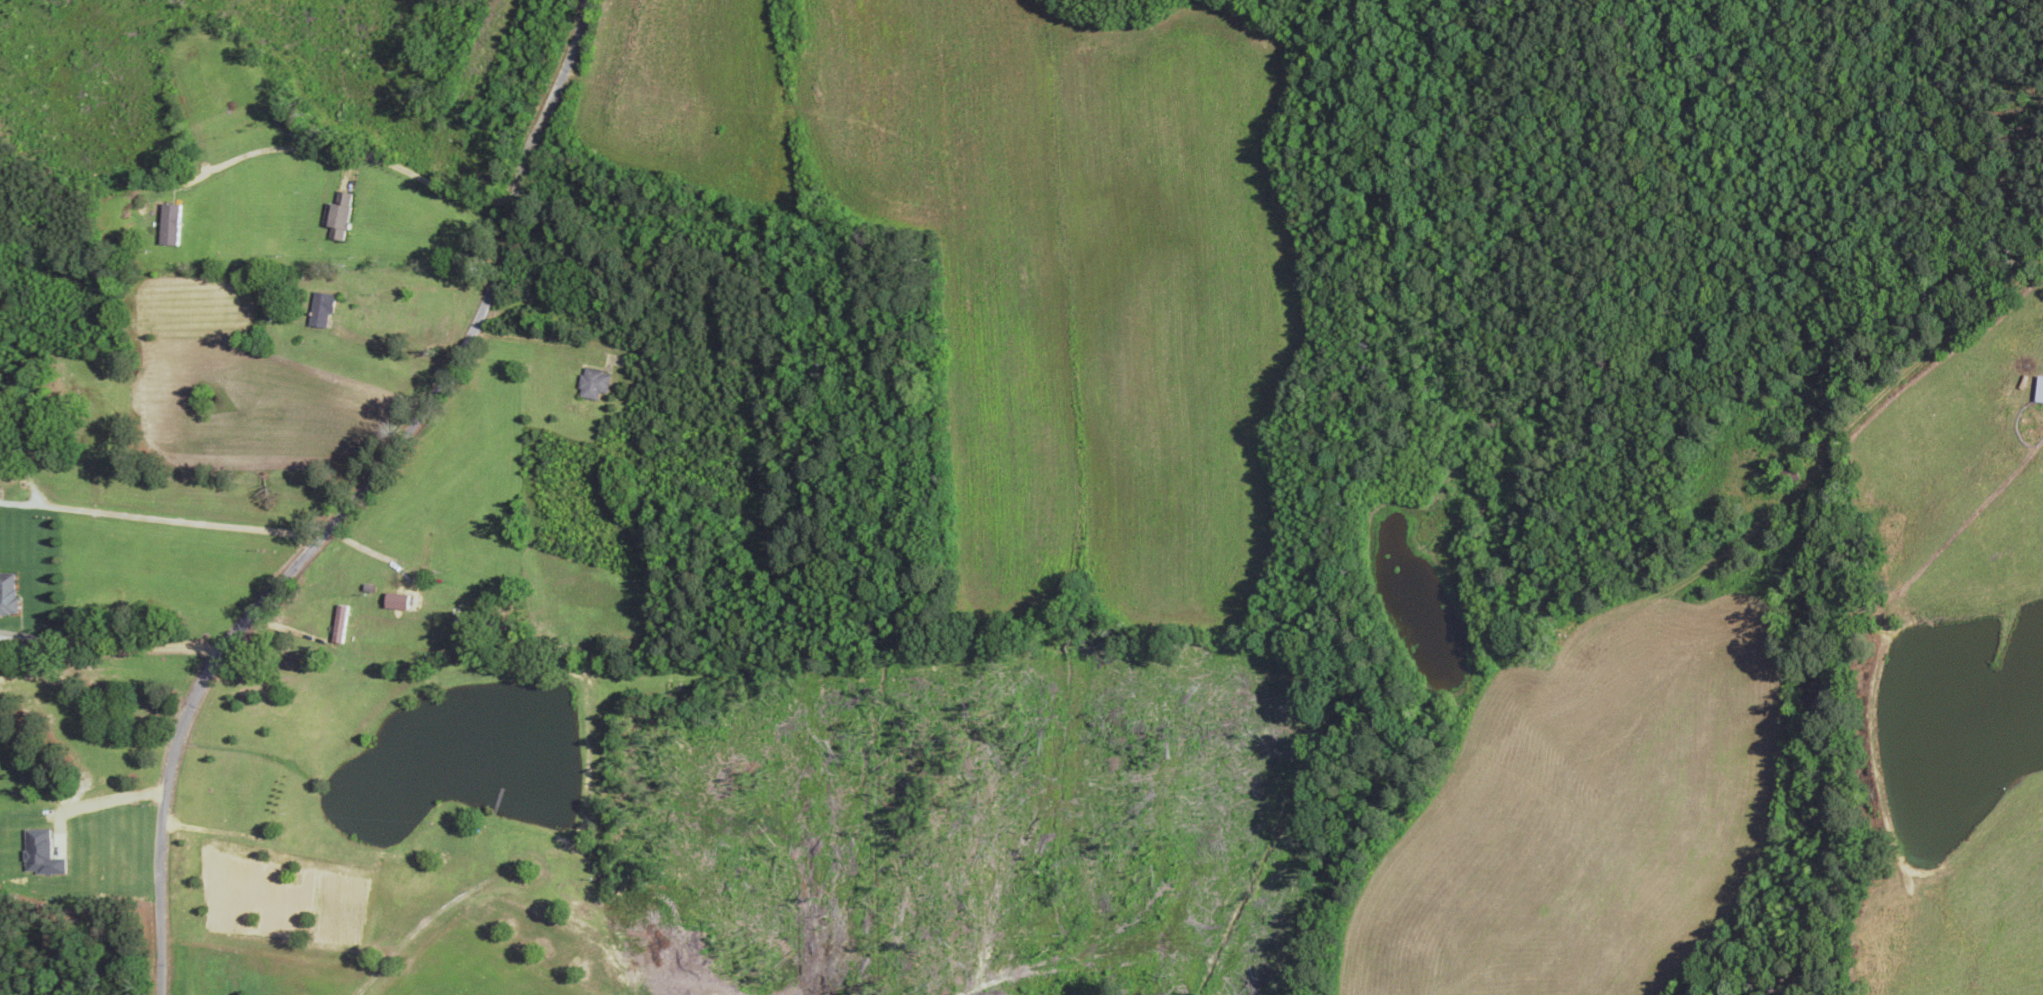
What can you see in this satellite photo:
building: (336, 218)
building: (167, 225)
building: (319, 310)
road: (1935, 359)
building: (591, 384)
building: (2038, 391)
road: (362, 499)
building: (422, 546)
building: (6, 594)

